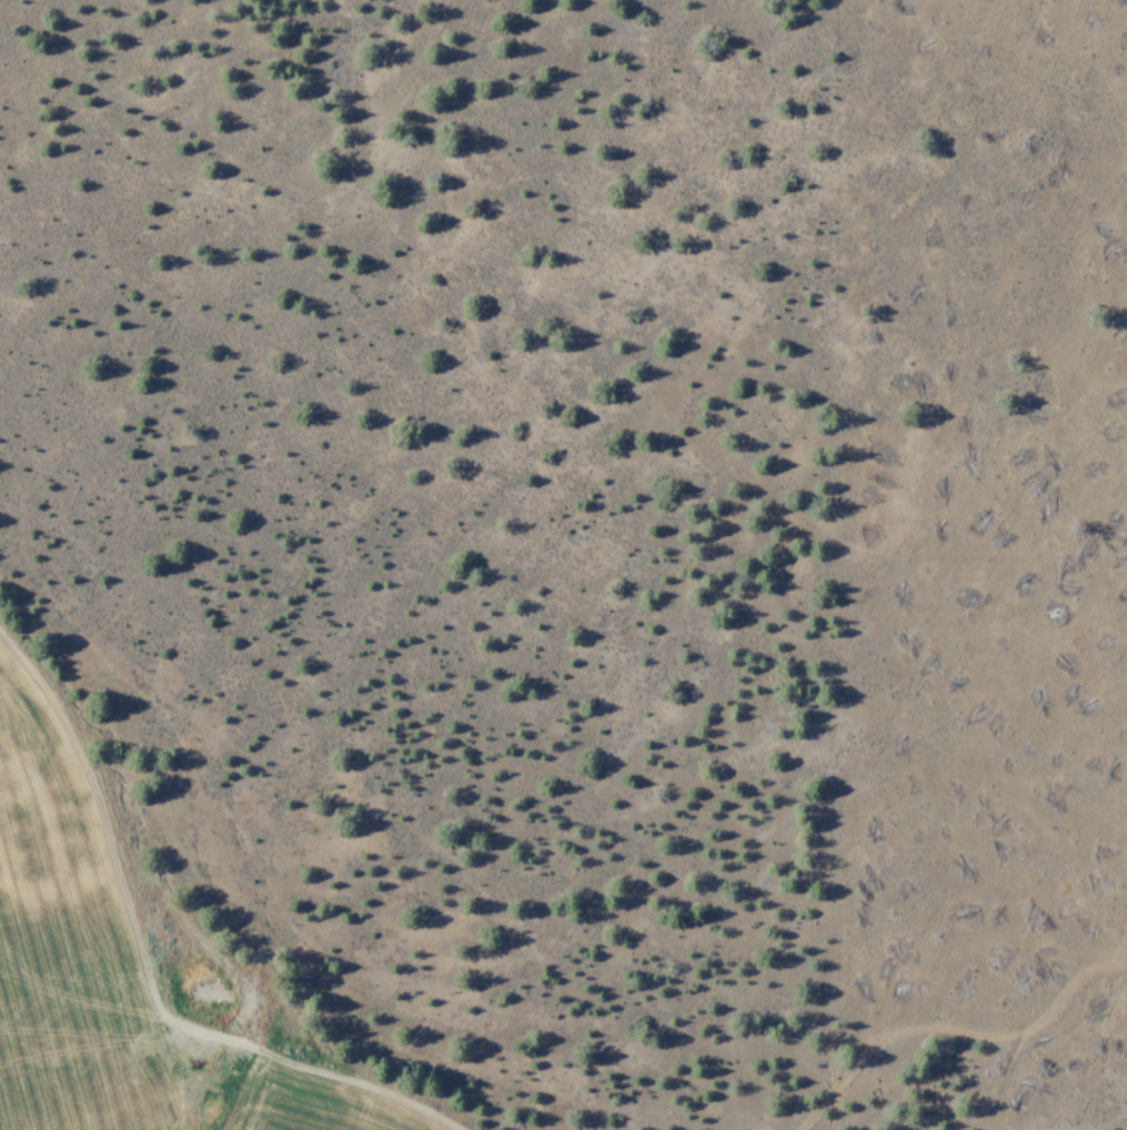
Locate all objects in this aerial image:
road: (142, 966)

